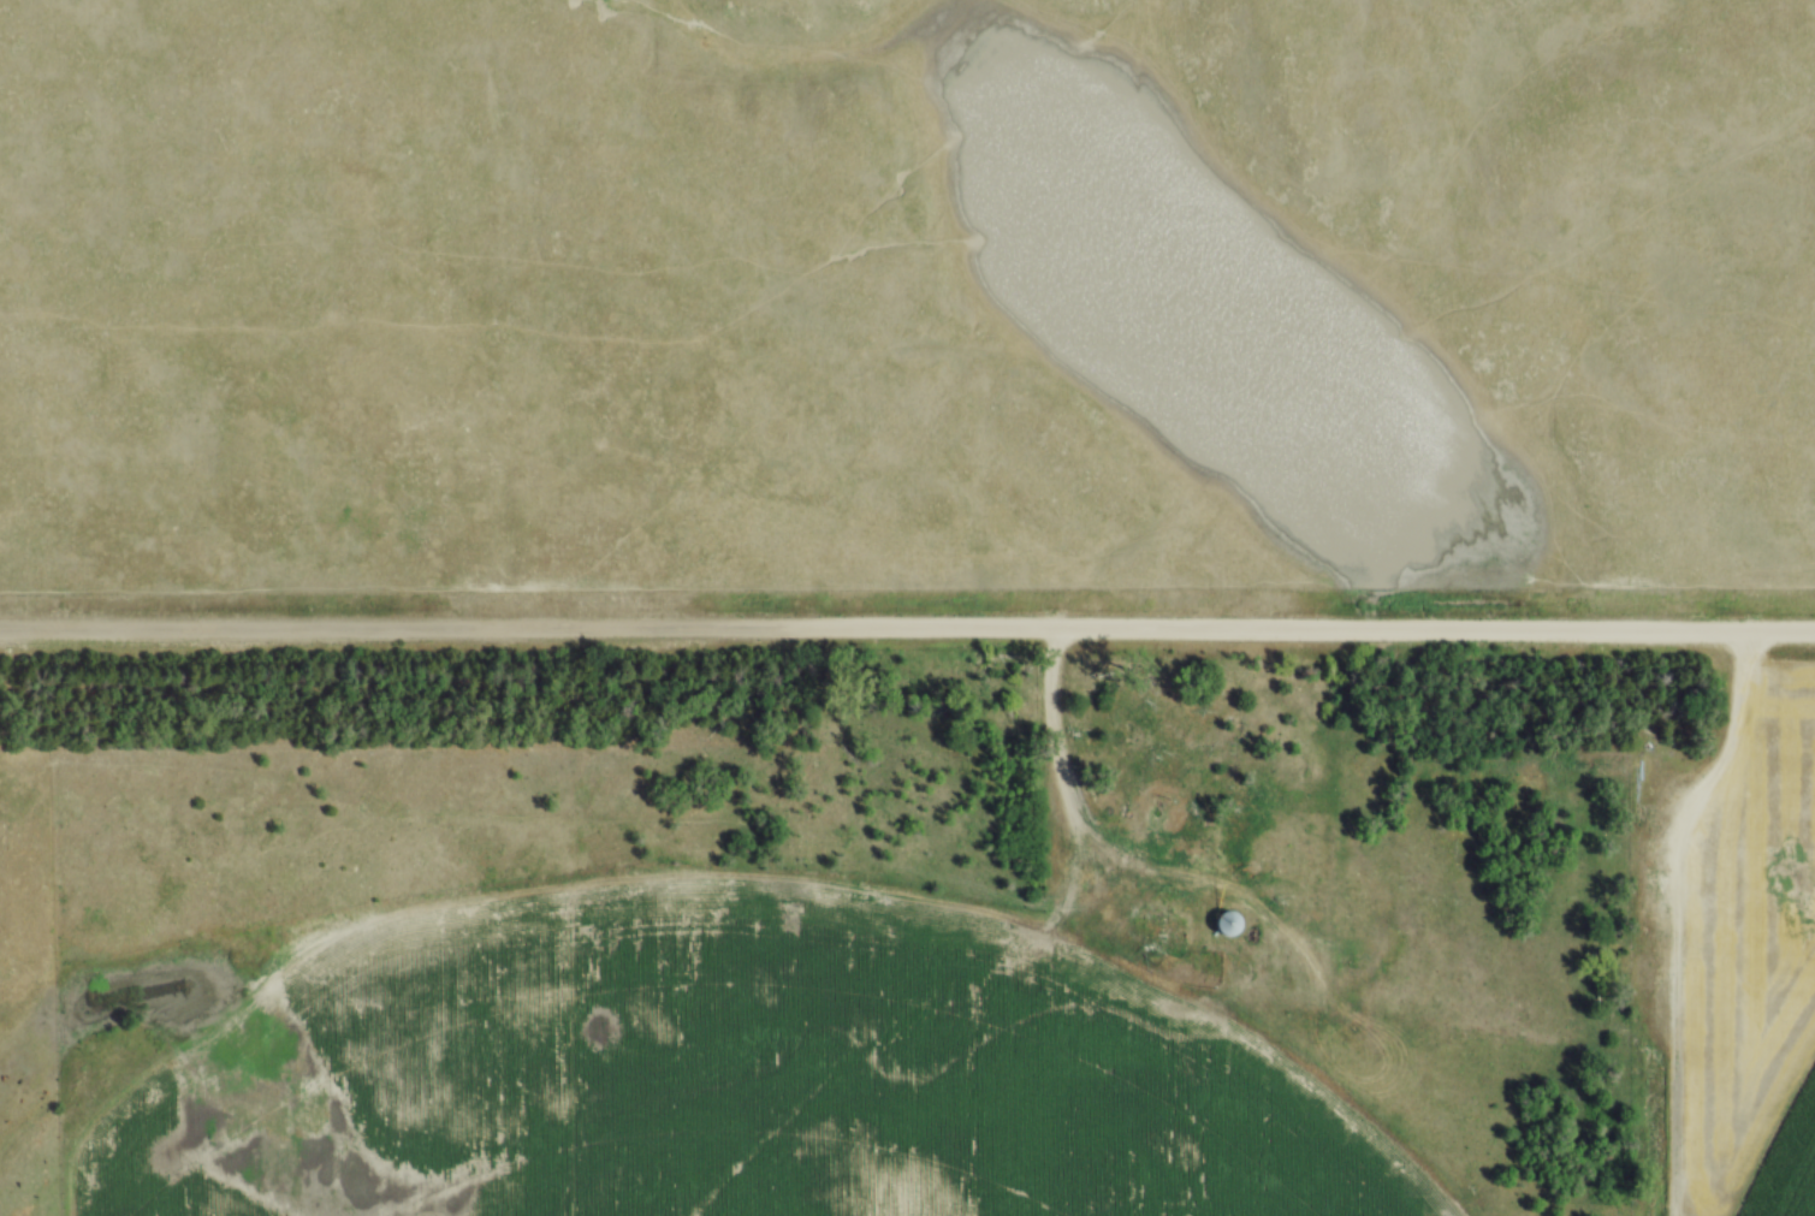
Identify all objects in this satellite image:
road: (907, 629)
road: (1054, 765)
building: (1222, 926)

